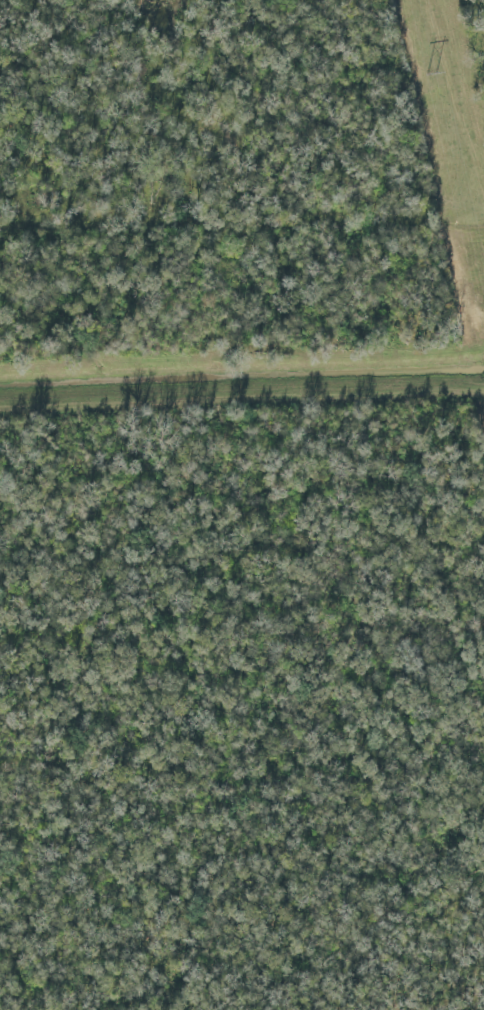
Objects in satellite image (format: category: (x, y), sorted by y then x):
power tower: (432, 74)

